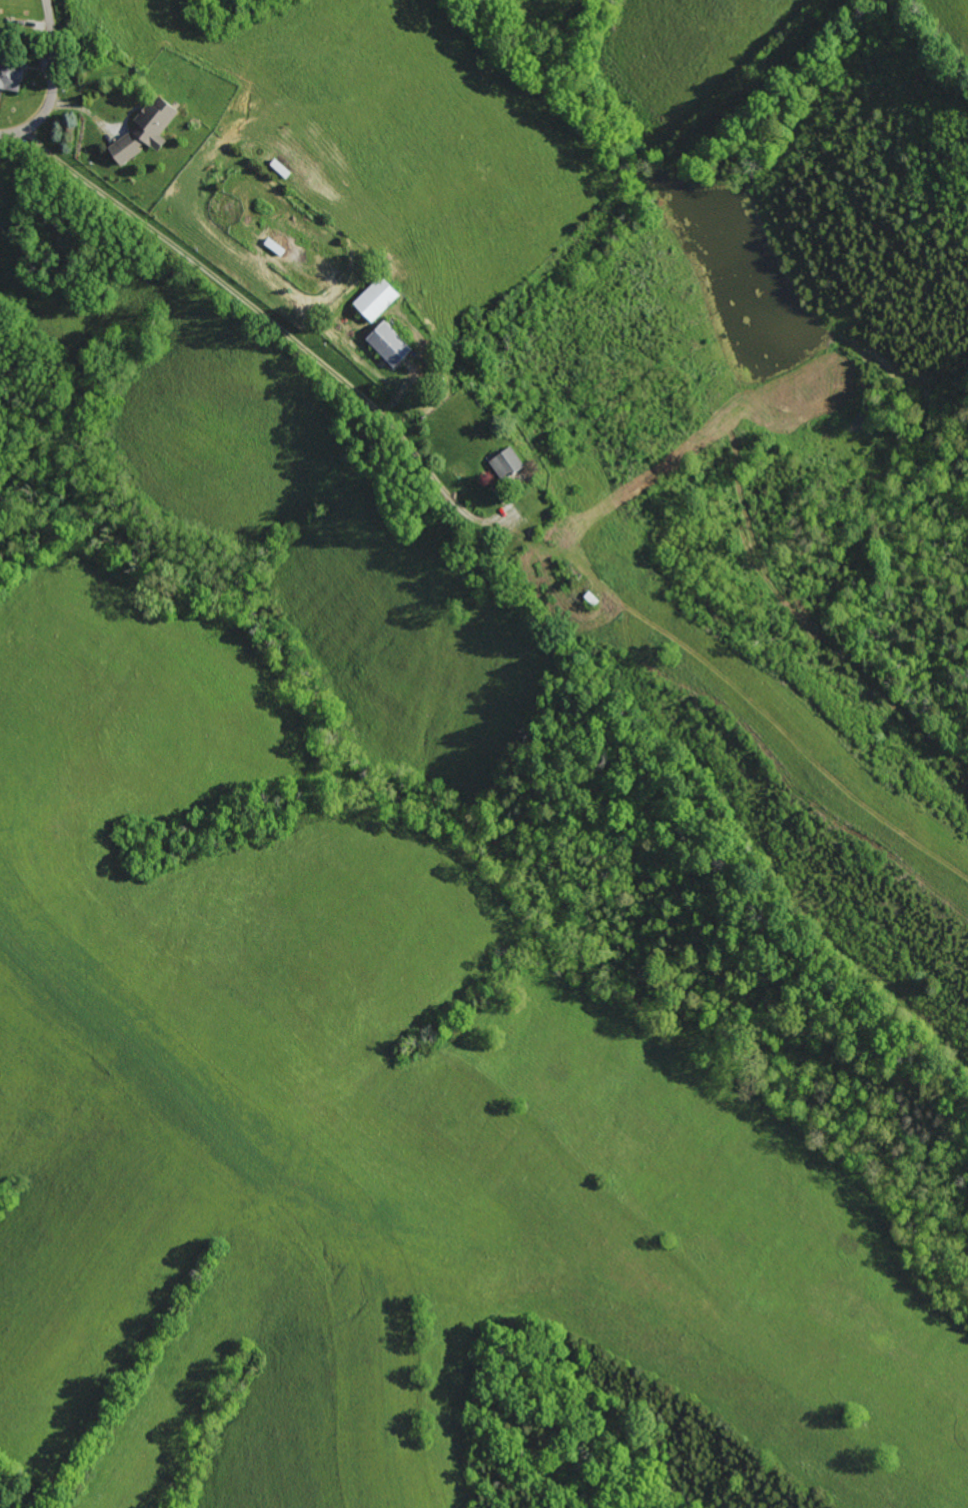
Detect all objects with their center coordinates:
building: (15, 78)
road: (55, 84)
building: (160, 121)
building: (130, 148)
building: (380, 298)
road: (229, 311)
building: (392, 343)
building: (513, 464)

